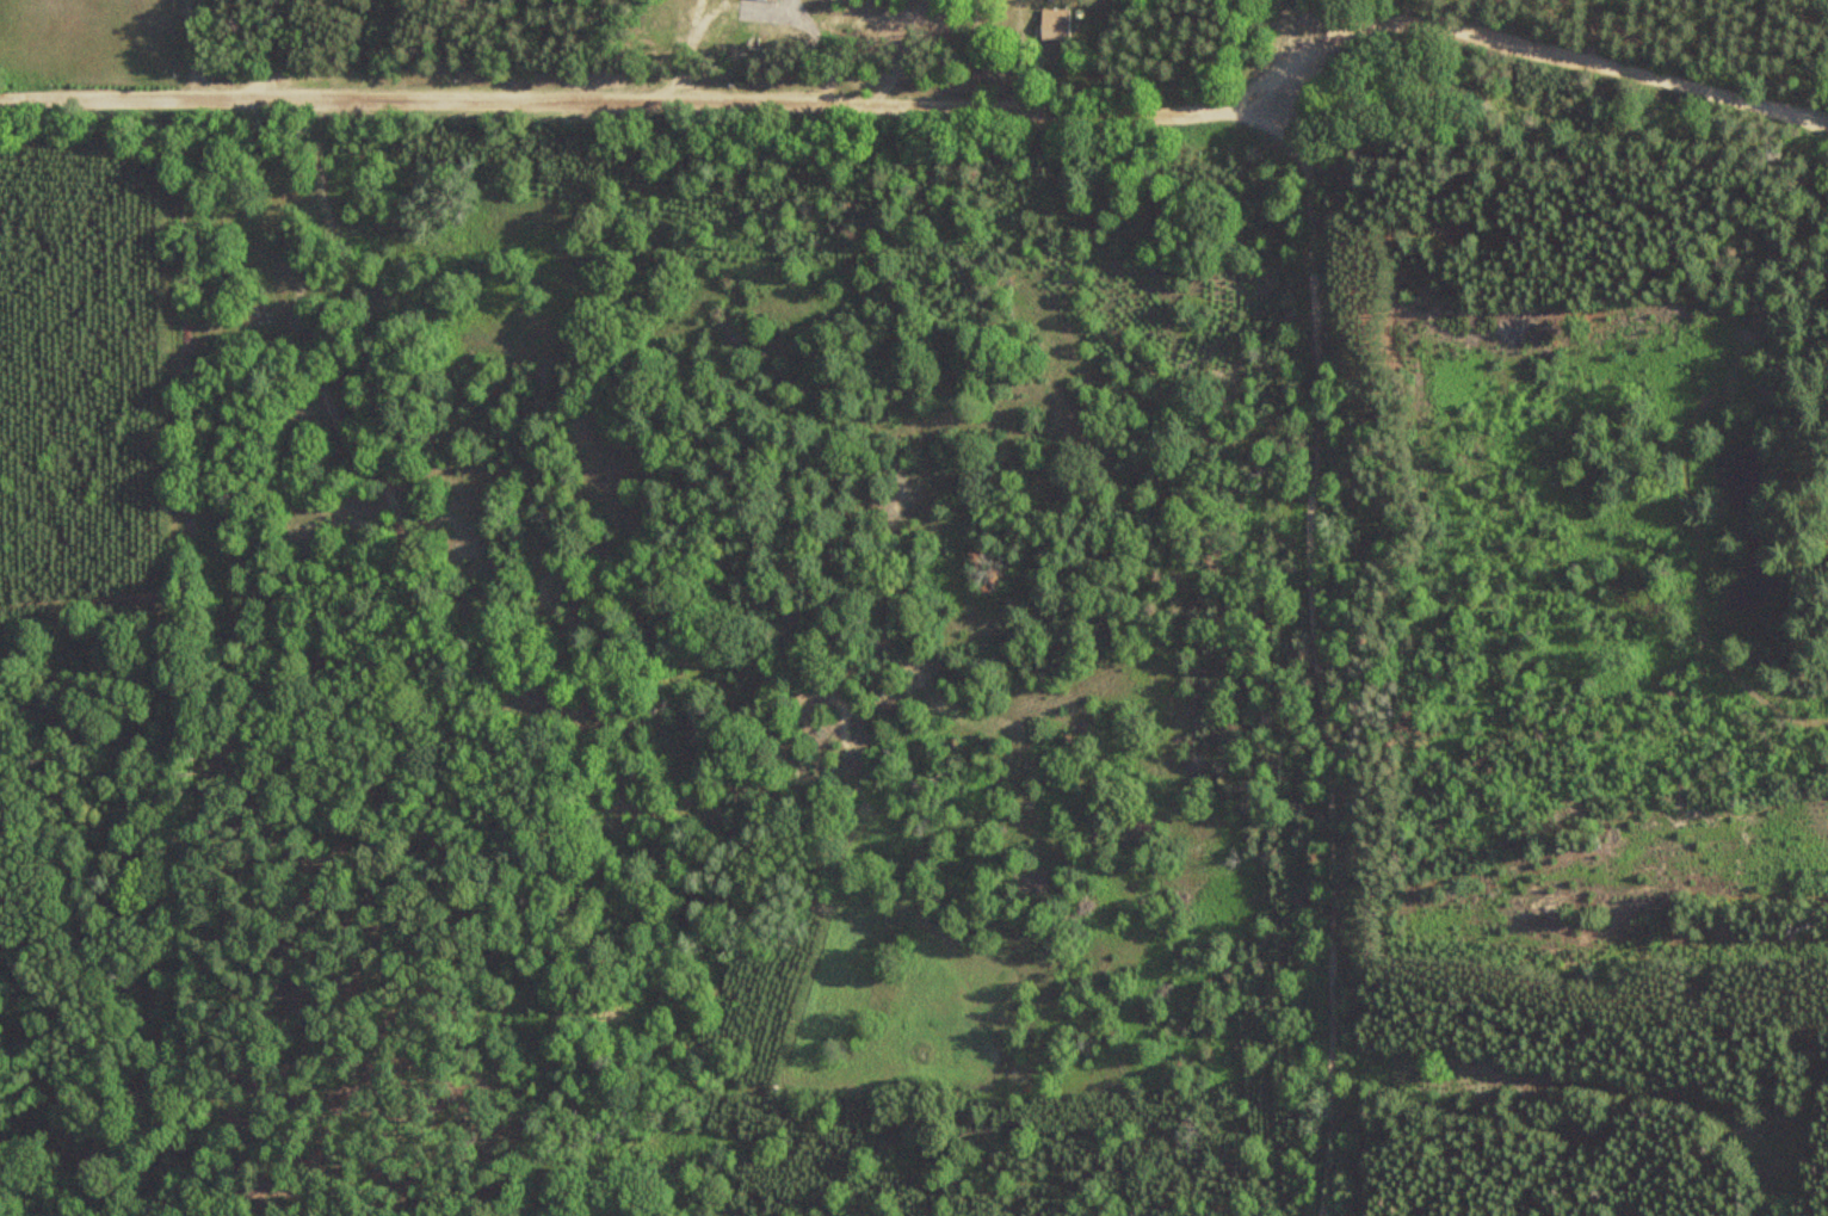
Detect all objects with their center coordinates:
building: (1056, 23)
road: (1530, 44)
road: (283, 47)
road: (625, 95)
road: (1323, 649)
road: (1581, 926)

